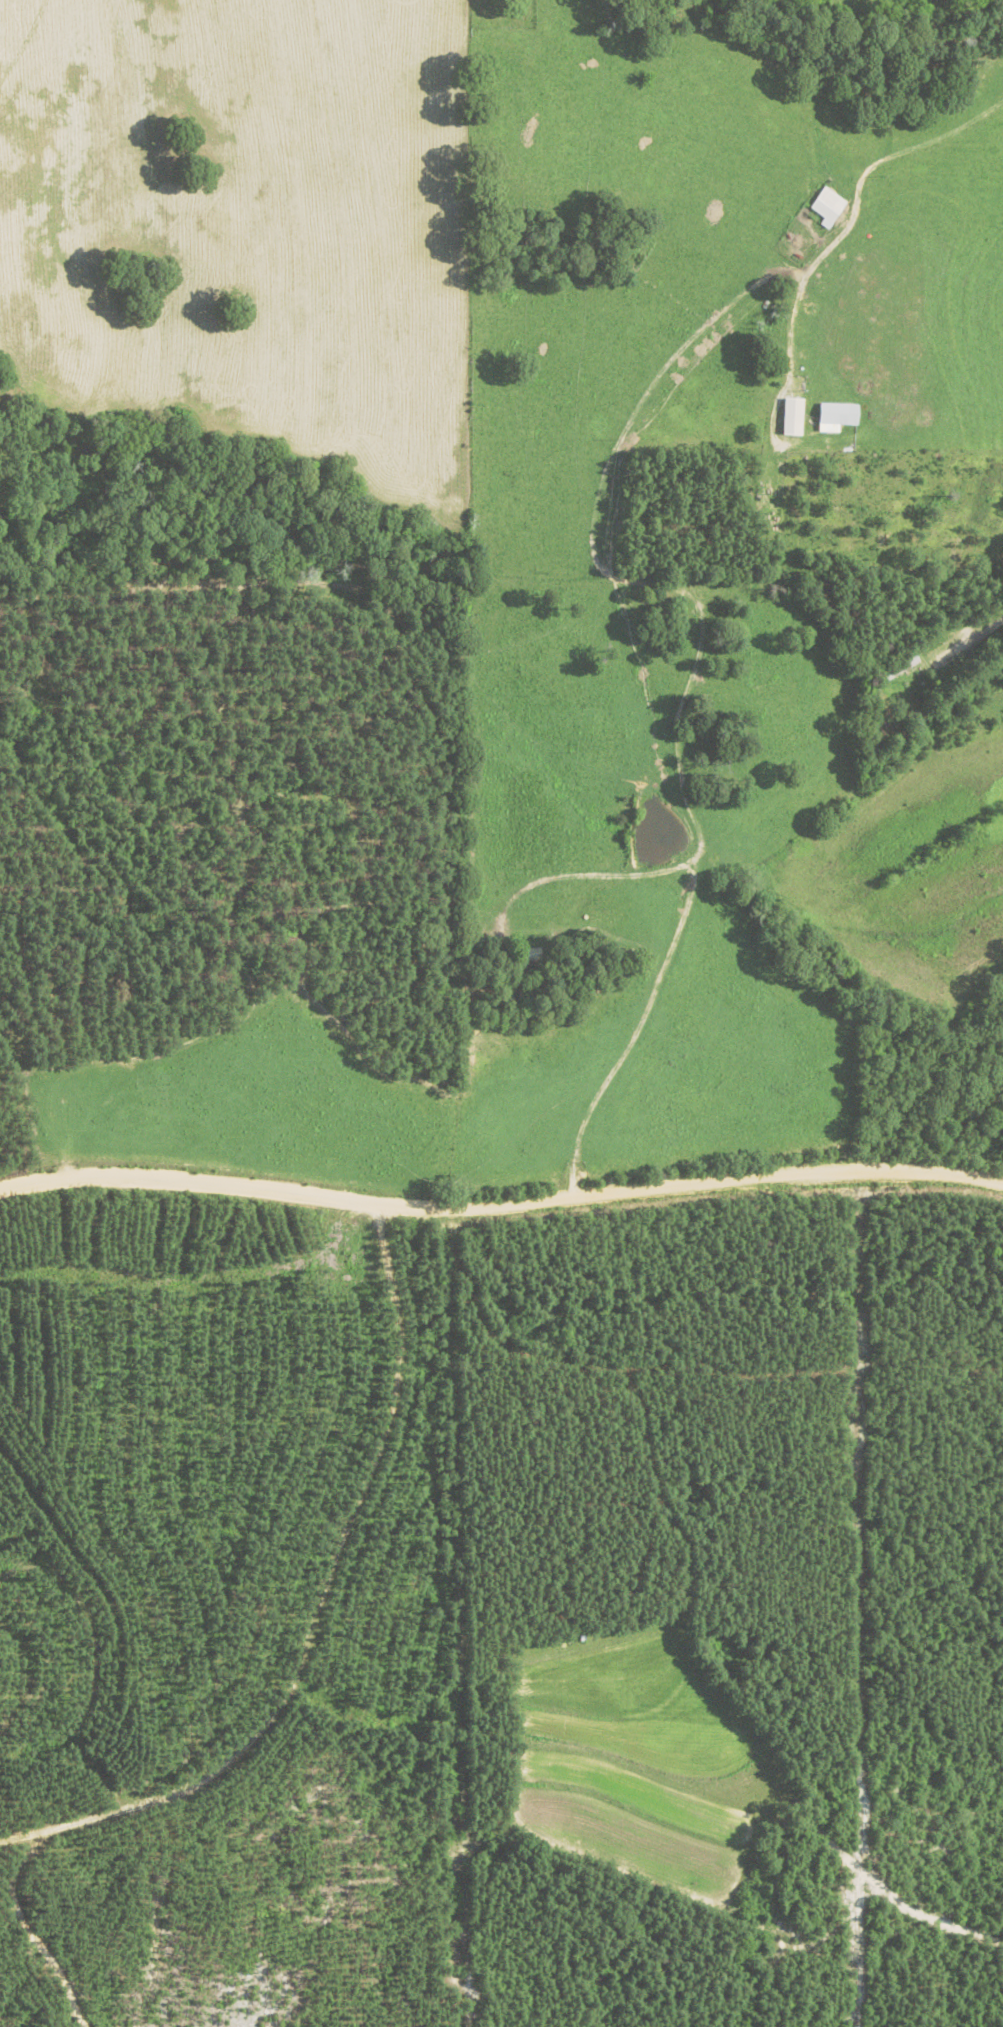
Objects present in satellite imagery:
building: (828, 207)
crop: (386, 235)
building: (793, 417)
building: (838, 417)
road: (697, 538)
building: (900, 670)
road: (751, 686)
road: (584, 753)
building: (530, 954)
road: (500, 1202)
road: (311, 1608)
road: (152, 1922)

